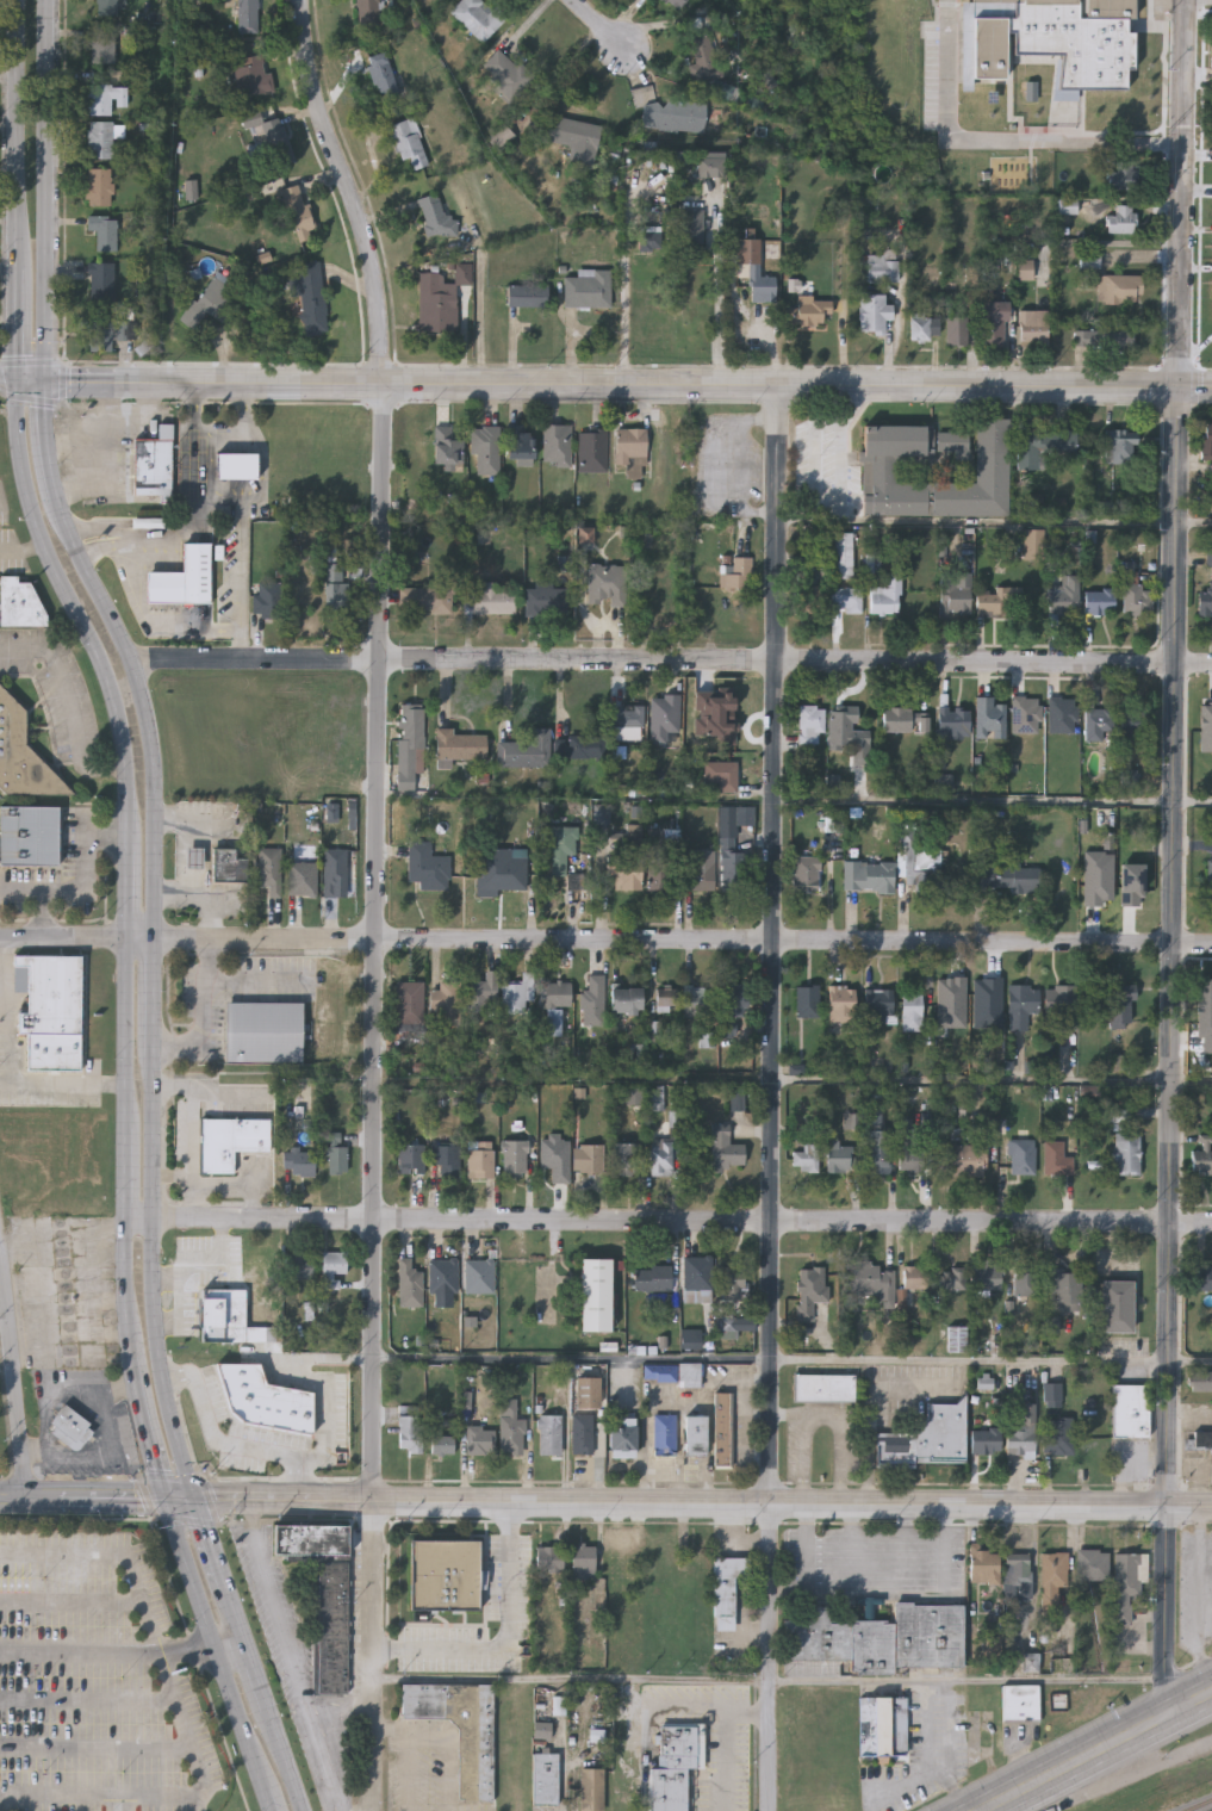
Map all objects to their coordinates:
building: (675, 4)
building: (106, 7)
building: (367, 12)
building: (247, 17)
building: (476, 18)
road: (607, 24)
building: (101, 44)
building: (703, 57)
building: (988, 60)
road: (560, 69)
building: (251, 75)
building: (504, 75)
building: (383, 80)
building: (106, 98)
building: (670, 114)
building: (499, 137)
building: (100, 138)
road: (997, 138)
building: (574, 139)
building: (408, 144)
building: (274, 150)
building: (710, 167)
building: (1123, 174)
building: (100, 186)
road: (15, 190)
building: (294, 212)
building: (435, 218)
building: (1121, 219)
building: (690, 228)
building: (104, 231)
building: (651, 241)
building: (884, 271)
building: (754, 272)
building: (101, 284)
building: (588, 289)
building: (1119, 289)
building: (527, 296)
building: (312, 298)
building: (212, 302)
road: (623, 304)
building: (435, 305)
road: (481, 306)
road: (717, 309)
building: (874, 312)
building: (807, 314)
building: (994, 324)
building: (925, 328)
building: (1033, 328)
building: (956, 331)
building: (106, 333)
building: (1104, 340)
road: (6, 380)
traffic signals: (13, 382)
traffic signals: (45, 383)
road: (611, 384)
road: (126, 417)
road: (102, 429)
road: (222, 438)
road: (843, 439)
building: (1207, 439)
building: (518, 440)
building: (555, 442)
building: (1064, 442)
building: (445, 444)
building: (952, 444)
building: (1120, 446)
building: (591, 448)
building: (483, 449)
building: (629, 451)
building: (1031, 453)
road: (100, 460)
building: (151, 463)
building: (234, 465)
road: (736, 466)
building: (878, 469)
road: (226, 500)
road: (994, 522)
road: (128, 533)
road: (21, 548)
building: (844, 556)
building: (738, 571)
building: (182, 577)
road: (243, 581)
building: (604, 584)
building: (334, 589)
building: (808, 594)
building: (1136, 595)
building: (887, 596)
building: (953, 596)
building: (1064, 596)
building: (425, 597)
building: (545, 597)
building: (266, 600)
building: (487, 600)
building: (846, 600)
building: (1000, 601)
building: (1099, 601)
building: (1205, 602)
building: (18, 603)
road: (672, 662)
road: (70, 705)
building: (663, 717)
building: (734, 717)
building: (990, 718)
building: (8, 719)
building: (628, 721)
building: (906, 721)
building: (1098, 722)
building: (952, 724)
building: (1136, 724)
building: (810, 725)
building: (1202, 726)
building: (847, 738)
road: (150, 743)
building: (408, 745)
building: (456, 745)
building: (579, 746)
building: (523, 751)
building: (721, 776)
road: (992, 805)
building: (29, 836)
building: (558, 848)
road: (1171, 858)
road: (125, 860)
building: (226, 866)
building: (425, 867)
building: (924, 868)
building: (268, 869)
building: (332, 869)
building: (496, 870)
building: (623, 870)
building: (732, 870)
building: (658, 873)
building: (806, 873)
building: (697, 875)
building: (302, 877)
building: (868, 877)
building: (1006, 877)
building: (573, 881)
building: (1115, 881)
building: (1210, 881)
road: (86, 888)
road: (372, 899)
road: (605, 943)
road: (255, 980)
building: (479, 996)
building: (553, 996)
building: (514, 998)
building: (666, 999)
building: (734, 999)
building: (595, 1000)
building: (626, 1000)
building: (698, 1000)
building: (808, 1000)
building: (1207, 1000)
building: (409, 1001)
building: (446, 1003)
building: (843, 1004)
building: (880, 1004)
building: (1023, 1004)
building: (984, 1005)
building: (1059, 1006)
building: (1120, 1007)
building: (49, 1009)
building: (912, 1011)
road: (8, 1013)
road: (201, 1015)
building: (553, 1023)
building: (262, 1032)
road: (993, 1083)
road: (62, 1085)
road: (175, 1089)
road: (230, 1091)
road: (773, 1097)
building: (230, 1141)
building: (726, 1151)
building: (880, 1151)
building: (1061, 1151)
road: (195, 1153)
building: (335, 1153)
building: (1127, 1153)
building: (514, 1155)
building: (1023, 1155)
building: (411, 1158)
building: (447, 1158)
building: (586, 1158)
building: (661, 1158)
building: (807, 1158)
building: (841, 1158)
building: (914, 1159)
building: (963, 1159)
building: (1201, 1160)
building: (480, 1162)
building: (298, 1164)
building: (622, 1164)
road: (174, 1178)
road: (669, 1222)
building: (262, 1264)
road: (184, 1266)
building: (298, 1266)
building: (331, 1267)
building: (697, 1273)
building: (442, 1274)
building: (988, 1274)
building: (479, 1276)
building: (652, 1277)
building: (916, 1277)
road: (167, 1278)
building: (955, 1278)
building: (1204, 1279)
building: (869, 1280)
building: (733, 1283)
building: (1025, 1283)
building: (409, 1284)
building: (1067, 1288)
building: (810, 1290)
building: (64, 1292)
building: (596, 1294)
road: (46, 1297)
building: (1117, 1305)
building: (228, 1316)
building: (957, 1339)
road: (727, 1362)
road: (12, 1378)
building: (1200, 1382)
road: (43, 1385)
building: (823, 1388)
building: (586, 1391)
road: (874, 1403)
road: (323, 1407)
road: (1191, 1410)
building: (1132, 1412)
road: (785, 1413)
road: (110, 1418)
building: (510, 1428)
building: (723, 1428)
building: (70, 1429)
building: (409, 1429)
road: (149, 1431)
building: (1023, 1432)
building: (582, 1434)
building: (665, 1434)
building: (695, 1434)
building: (623, 1435)
building: (549, 1438)
building: (1059, 1438)
building: (927, 1439)
building: (480, 1440)
building: (987, 1440)
road: (231, 1443)
road: (840, 1444)
building: (1201, 1444)
building: (442, 1445)
road: (79, 1456)
road: (800, 1460)
road: (82, 1500)
traffic signals: (167, 1501)
road: (182, 1501)
traffic signals: (198, 1501)
road: (704, 1507)
road: (213, 1544)
building: (549, 1558)
building: (584, 1562)
building: (1094, 1564)
building: (446, 1575)
building: (1019, 1579)
building: (1053, 1579)
building: (1129, 1583)
building: (727, 1589)
building: (324, 1595)
building: (988, 1599)
road: (70, 1604)
road: (240, 1613)
building: (882, 1638)
road: (508, 1642)
road: (125, 1654)
road: (222, 1655)
road: (293, 1657)
road: (262, 1675)
road: (571, 1681)
road: (969, 1682)
parking lot: (93, 1683)
road: (87, 1700)
building: (1021, 1703)
road: (690, 1706)
road: (342, 1710)
road: (179, 1713)
building: (883, 1726)
building: (461, 1731)
road: (446, 1736)
road: (731, 1742)
road: (97, 1750)
road: (1098, 1753)
road: (646, 1759)
road: (291, 1760)
building: (676, 1767)
road: (1152, 1767)
road: (411, 1773)
building: (546, 1779)
building: (592, 1790)
railway: (1201, 1806)

